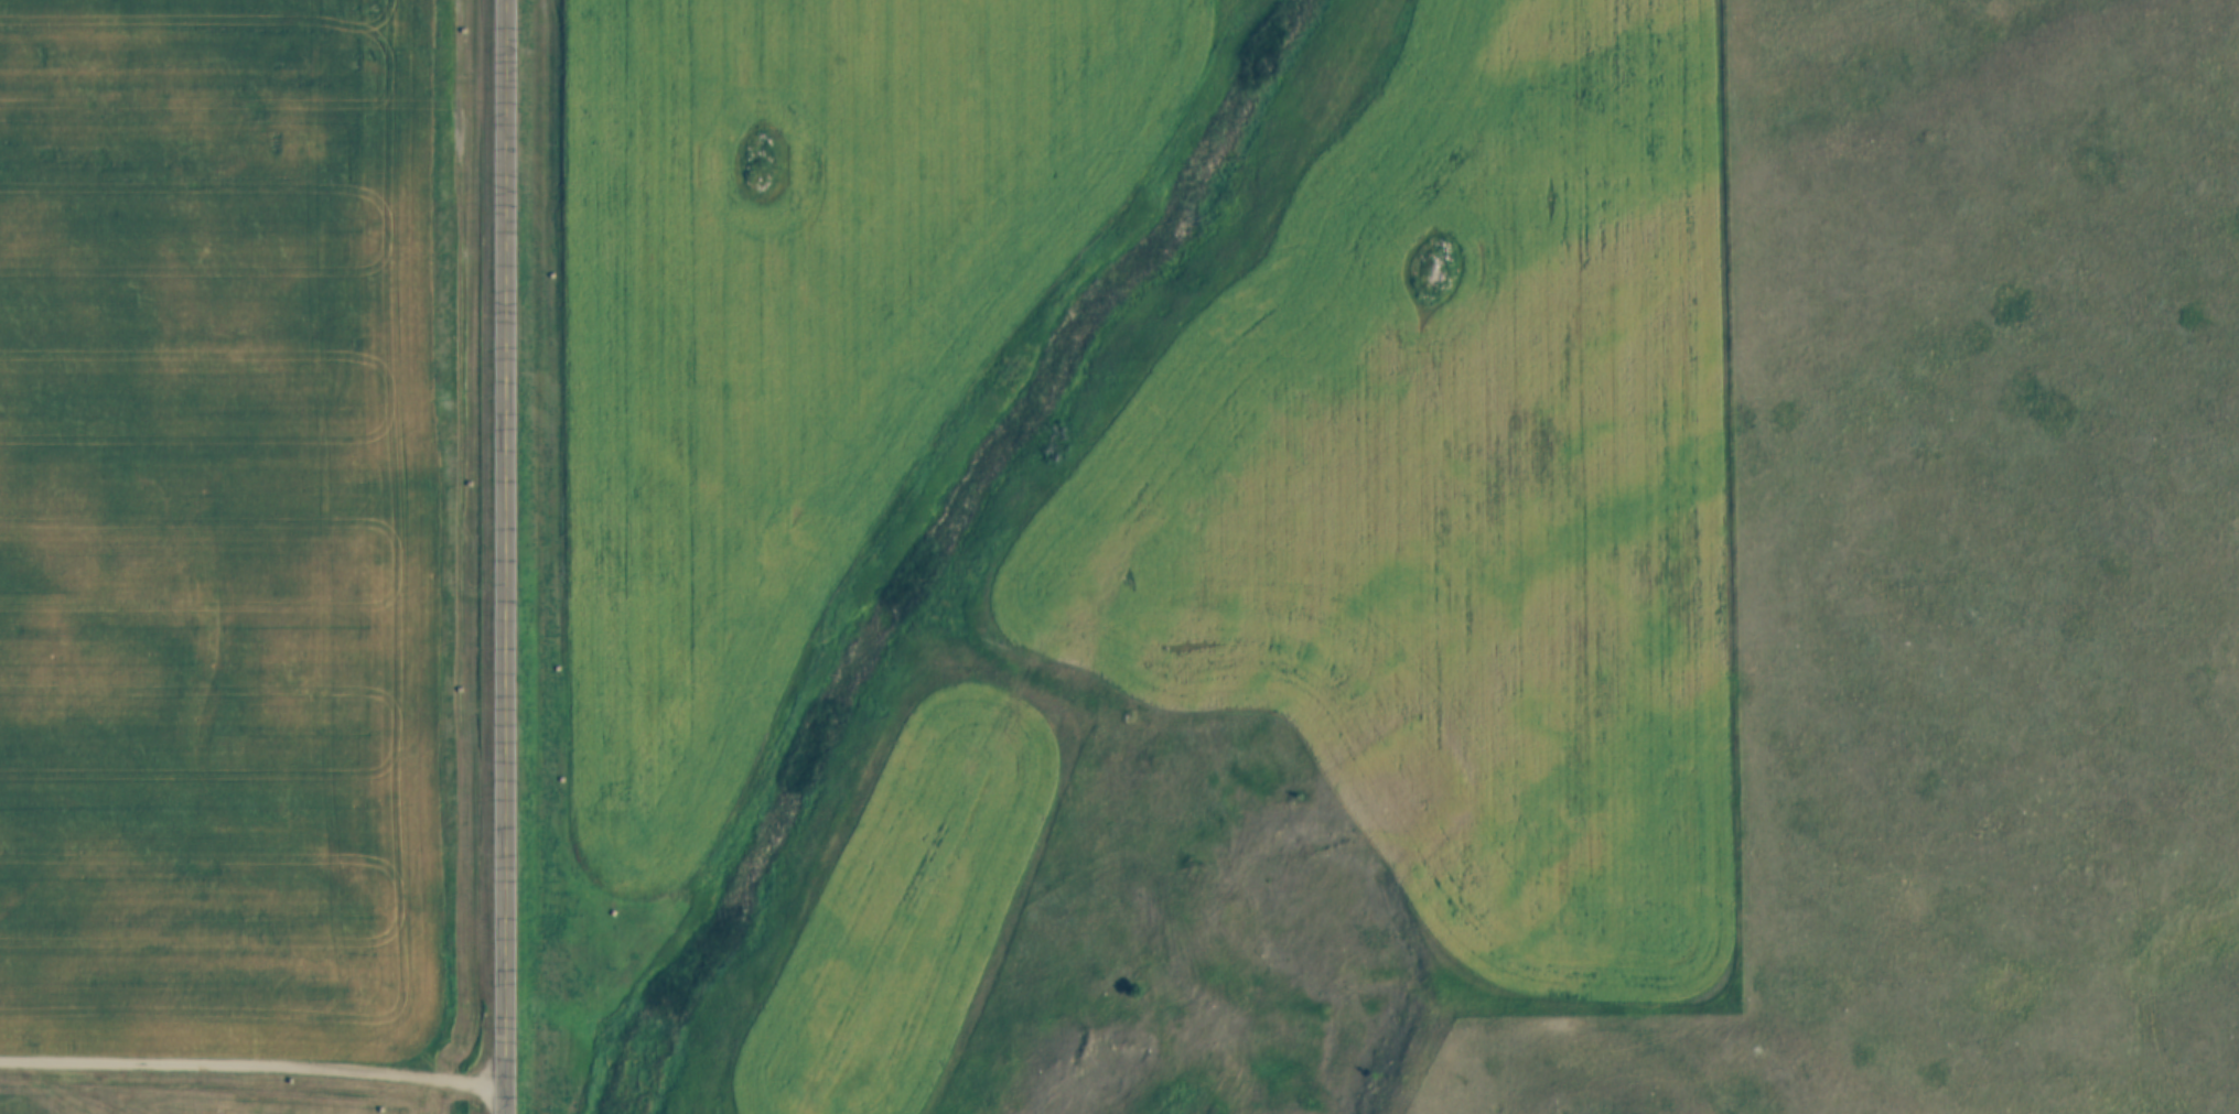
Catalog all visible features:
road: (504, 556)
road: (254, 1061)

